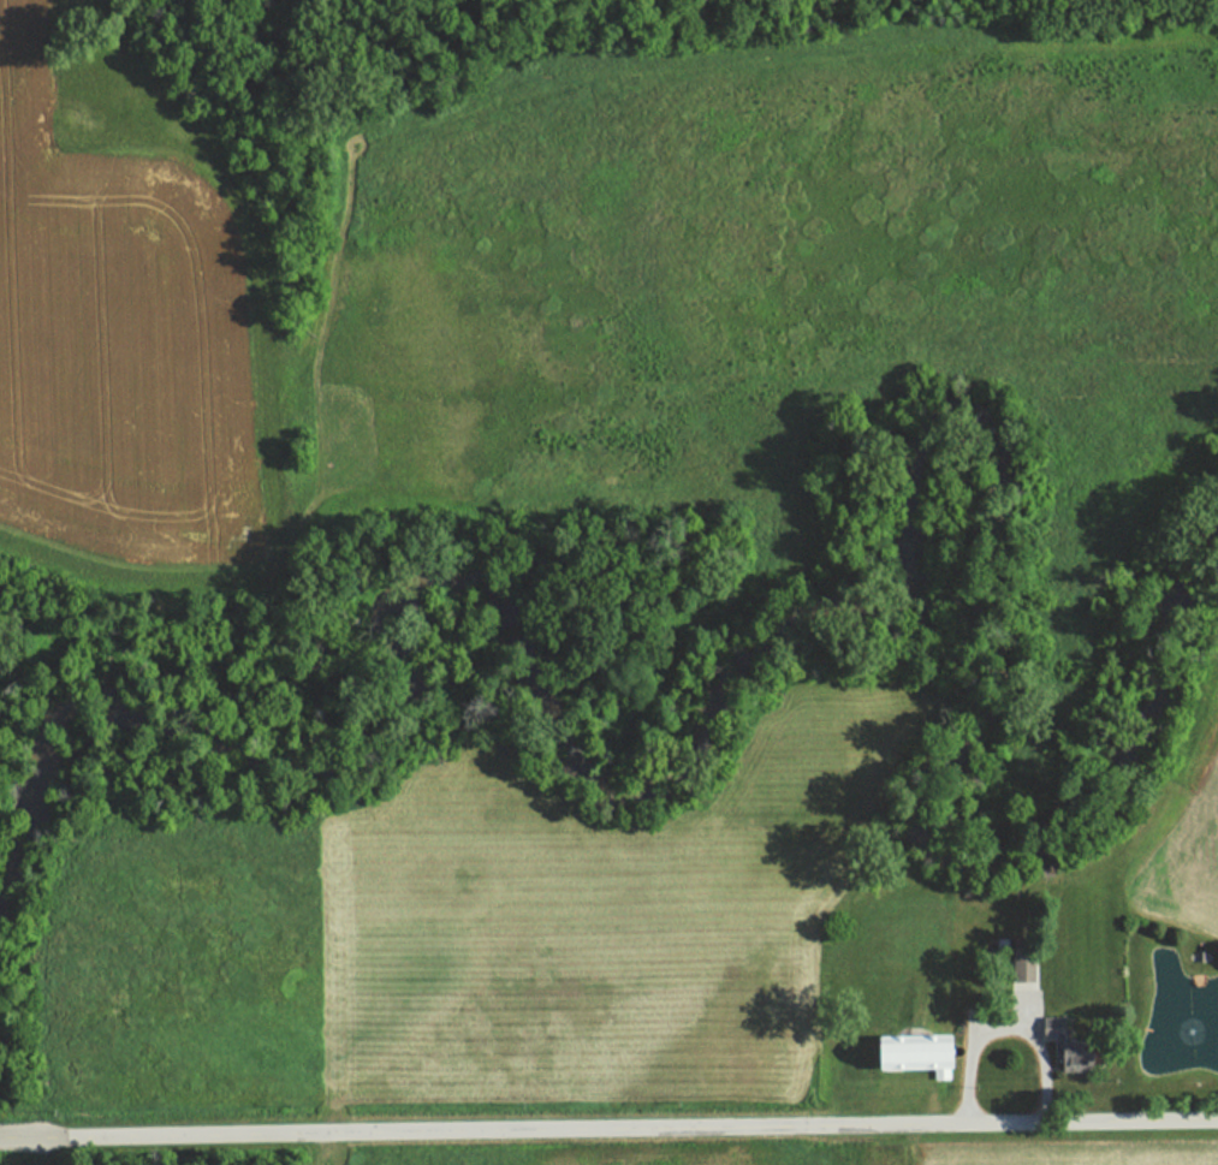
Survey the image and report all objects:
building: (1027, 969)
building: (1059, 1041)
building: (921, 1054)
road: (608, 1127)
crop: (1077, 1159)

